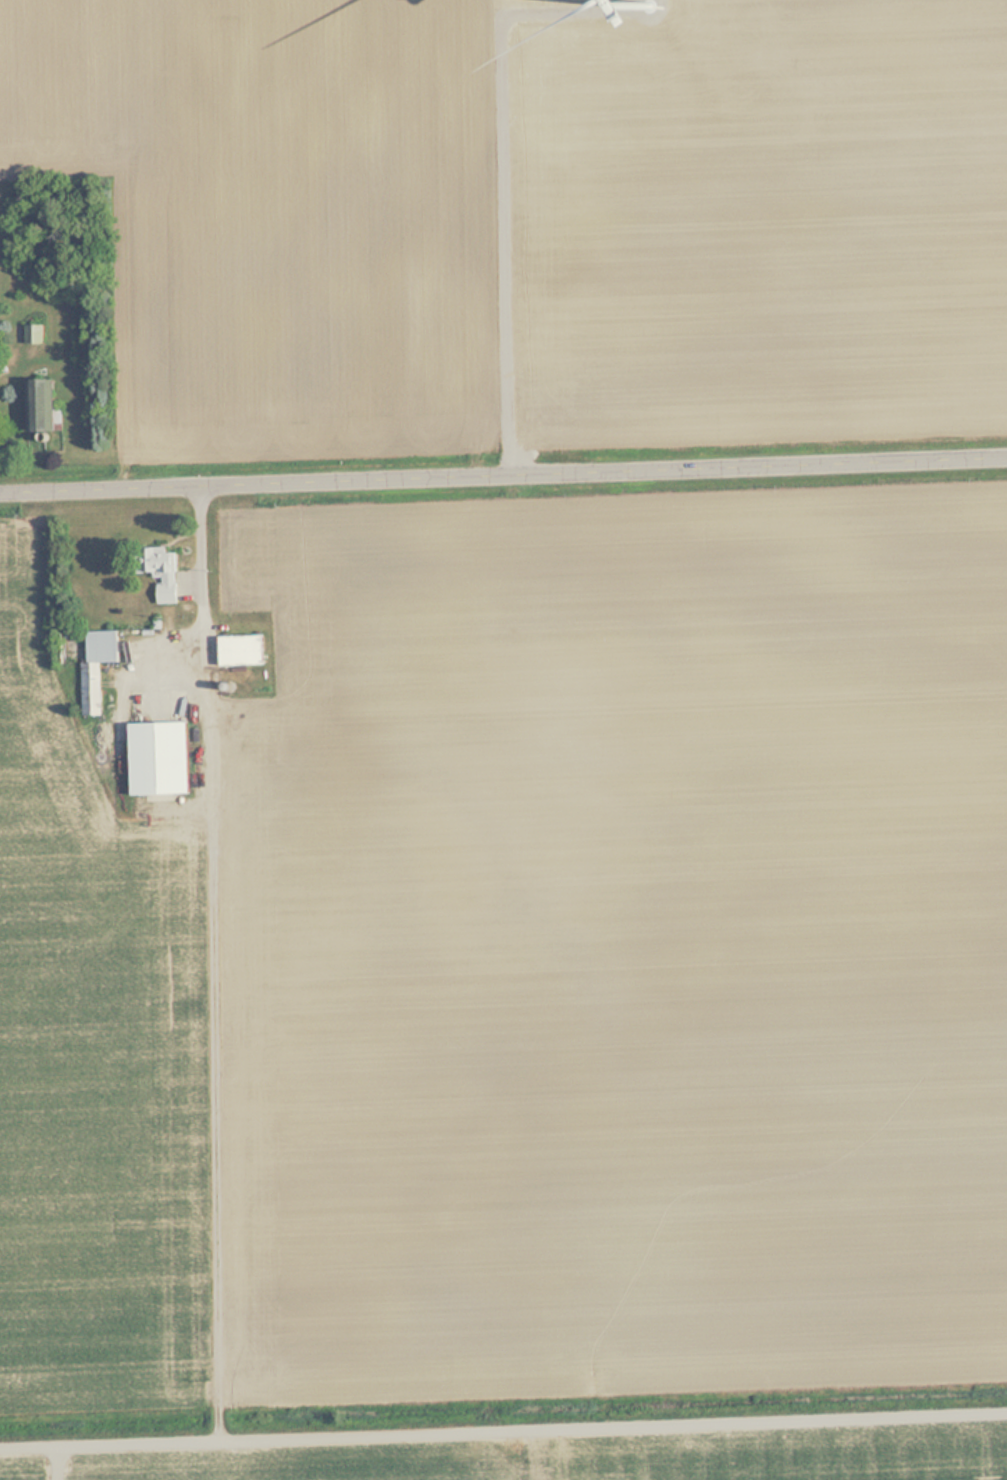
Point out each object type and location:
wind turbine: (657, 11)
building: (37, 333)
building: (44, 406)
road: (503, 471)
building: (169, 578)
building: (245, 650)
building: (100, 668)
building: (165, 759)

